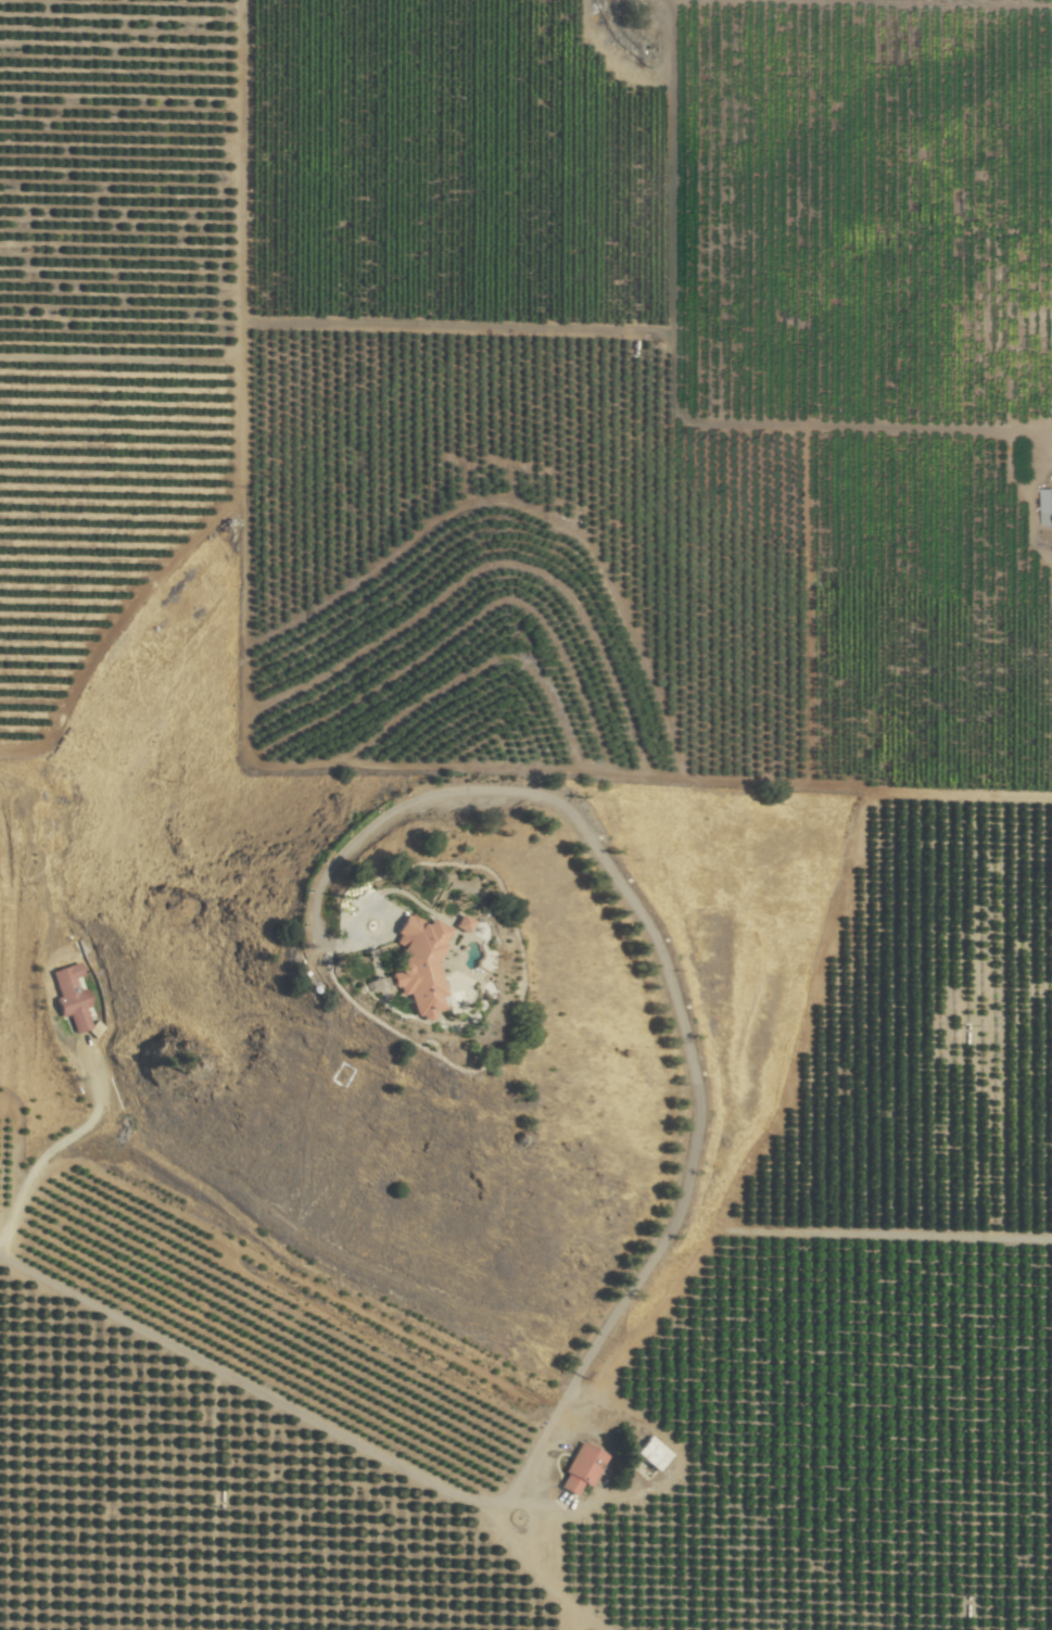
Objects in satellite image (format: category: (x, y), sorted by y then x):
building: (1047, 504)
crop: (567, 735)
building: (466, 920)
building: (422, 962)
road: (675, 995)
building: (69, 997)
road: (43, 1158)
road: (248, 1386)
building: (651, 1454)
building: (580, 1469)
road: (542, 1578)

